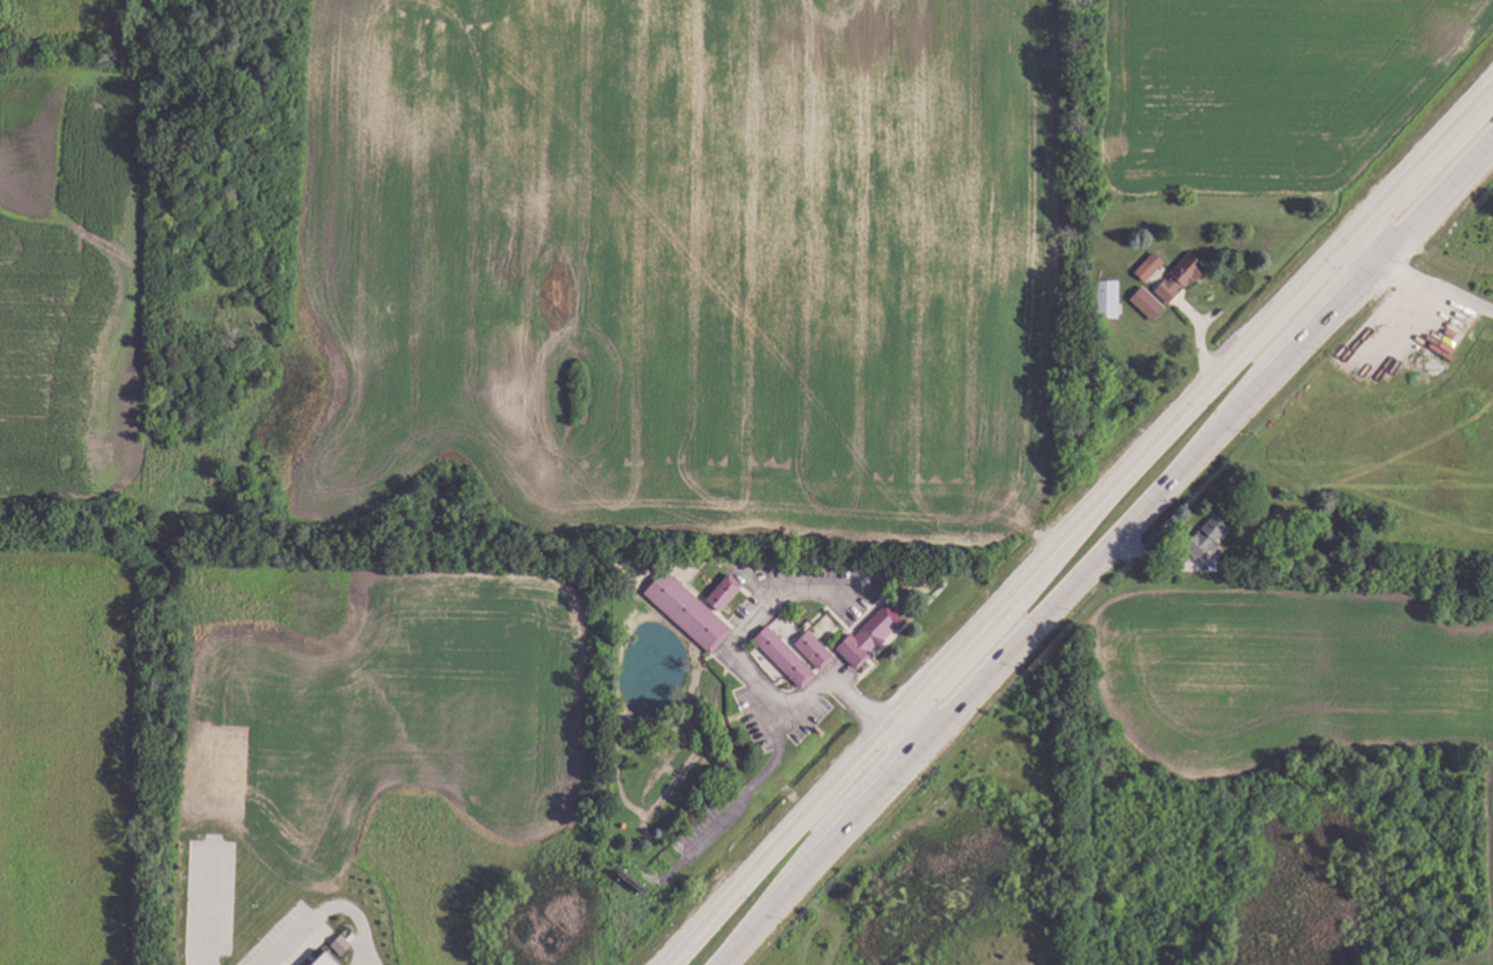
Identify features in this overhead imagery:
road: (1436, 195)
road: (1367, 244)
crop: (772, 249)
road: (1331, 258)
road: (1435, 261)
building: (1161, 266)
building: (1144, 268)
building: (1181, 276)
road: (1431, 290)
building: (1105, 298)
building: (1147, 306)
road: (1288, 351)
crop: (72, 477)
building: (1207, 536)
building: (1320, 562)
building: (723, 594)
building: (686, 609)
building: (871, 634)
building: (813, 648)
building: (784, 655)
crop: (1296, 682)
road: (755, 690)
road: (917, 695)
road: (955, 705)
road: (911, 726)
road: (743, 797)
road: (205, 906)
road: (355, 918)
road: (289, 941)
building: (338, 945)
building: (323, 960)

